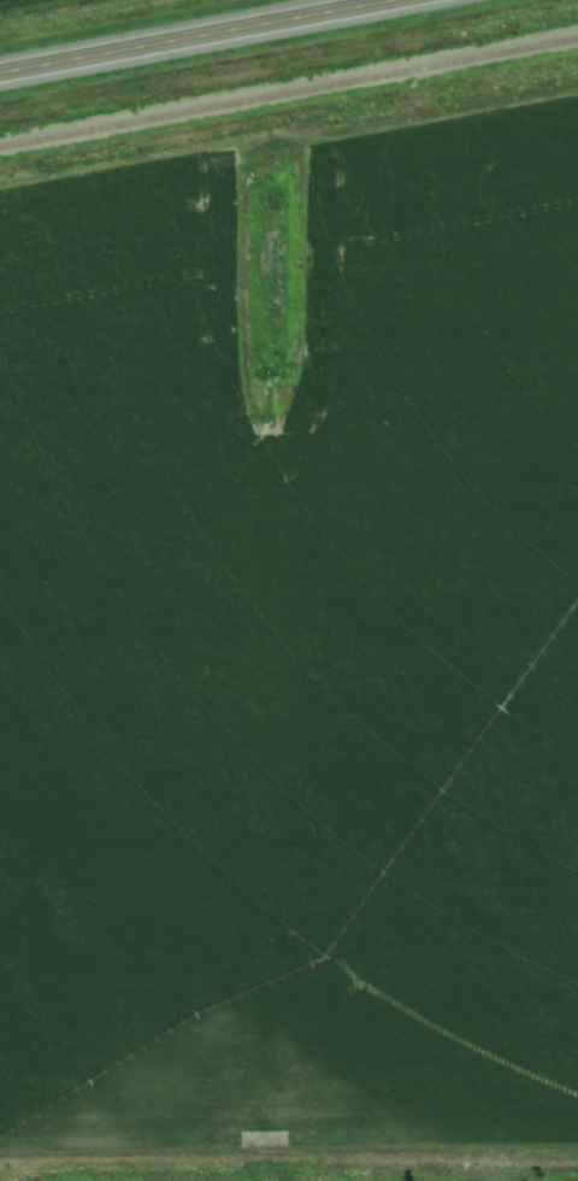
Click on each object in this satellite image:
road: (396, 1)
road: (205, 36)
railway: (289, 82)

